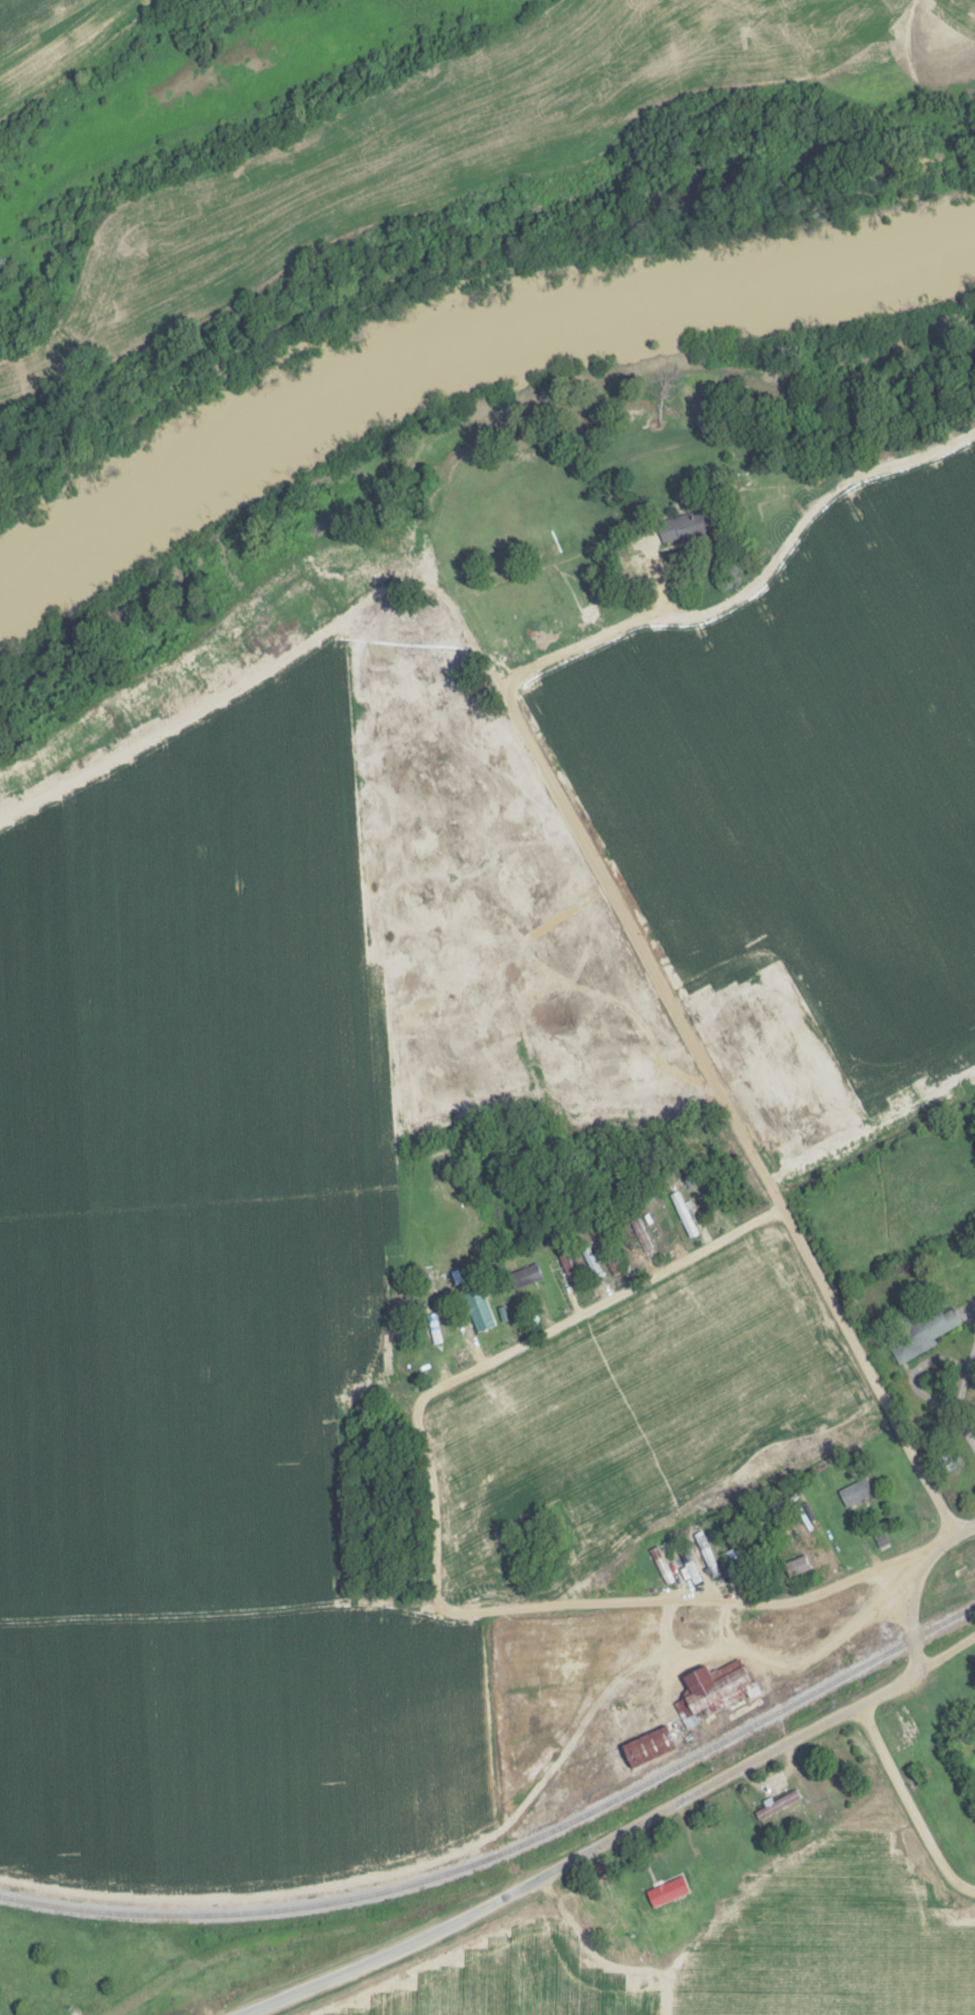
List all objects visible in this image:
road: (49, 28)
river: (462, 346)
building: (686, 523)
road: (744, 580)
road: (215, 699)
crop: (807, 765)
road: (534, 928)
road: (699, 1058)
building: (683, 1213)
building: (642, 1239)
building: (591, 1262)
building: (524, 1275)
building: (480, 1312)
building: (433, 1328)
building: (923, 1332)
road: (507, 1351)
building: (855, 1491)
building: (880, 1538)
road: (949, 1538)
building: (706, 1554)
building: (734, 1560)
building: (660, 1564)
building: (688, 1564)
road: (920, 1567)
road: (804, 1594)
road: (337, 1604)
road: (856, 1618)
road: (912, 1625)
building: (702, 1627)
road: (719, 1650)
road: (943, 1653)
road: (880, 1688)
building: (712, 1690)
building: (652, 1745)
building: (776, 1804)
road: (906, 1805)
railway: (512, 1847)
road: (549, 1870)
building: (654, 1891)

